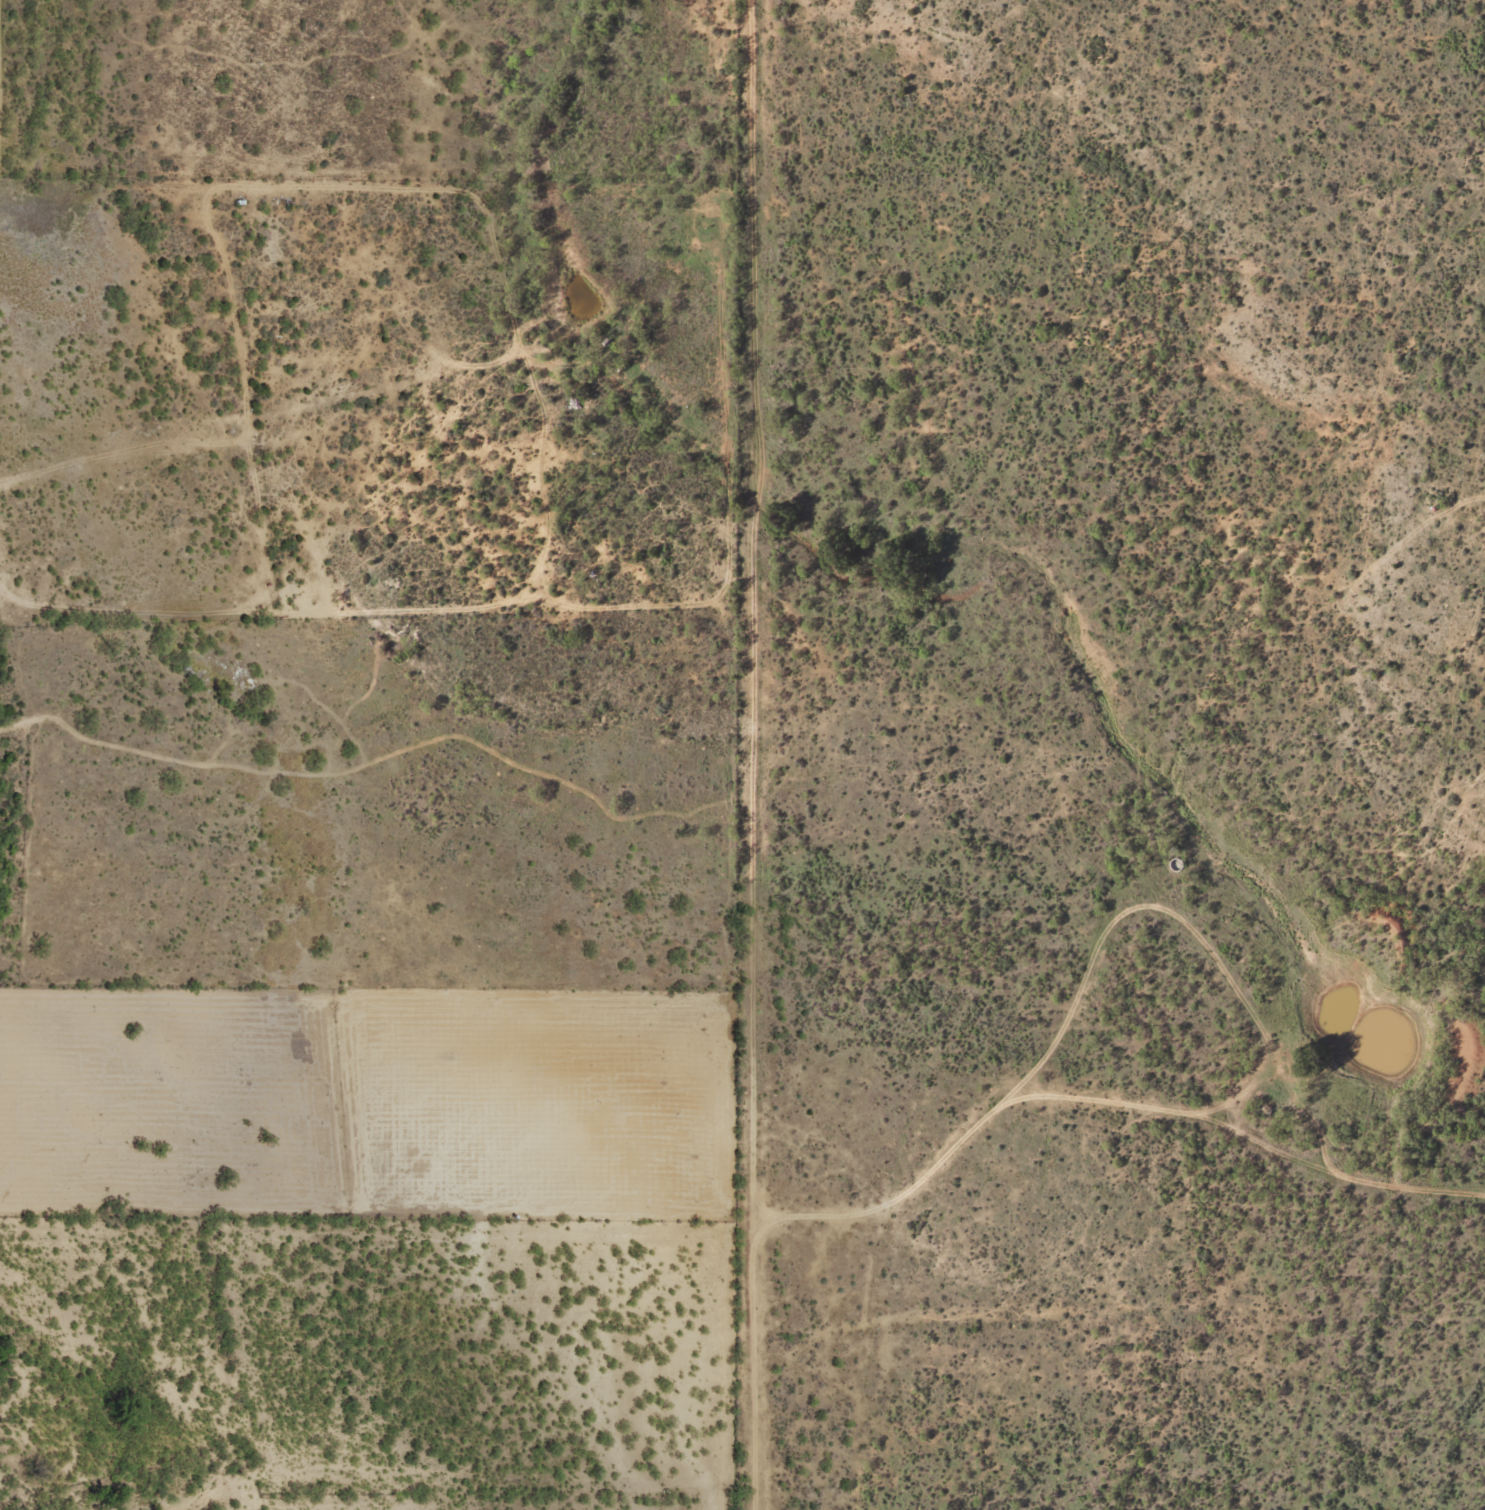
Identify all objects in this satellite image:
road: (759, 754)

